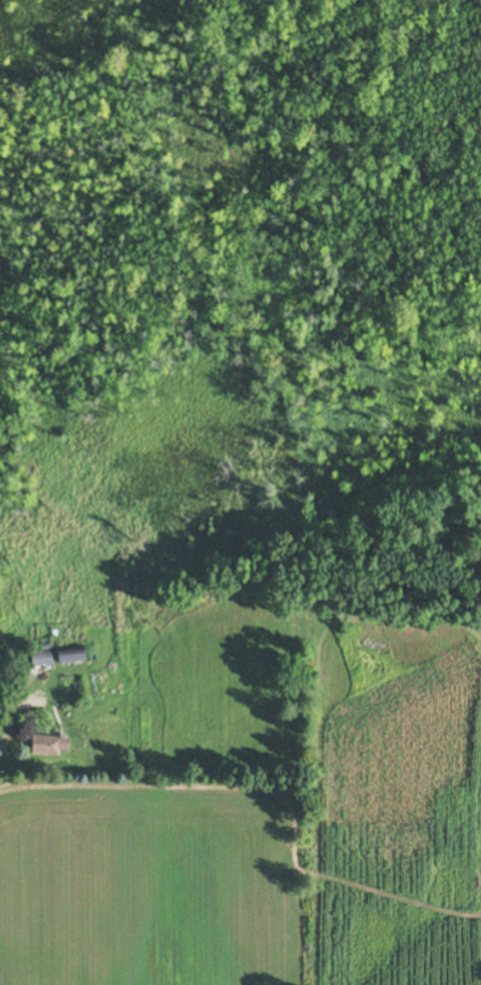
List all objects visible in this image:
building: (72, 650)
building: (42, 651)
road: (11, 705)
building: (48, 739)

